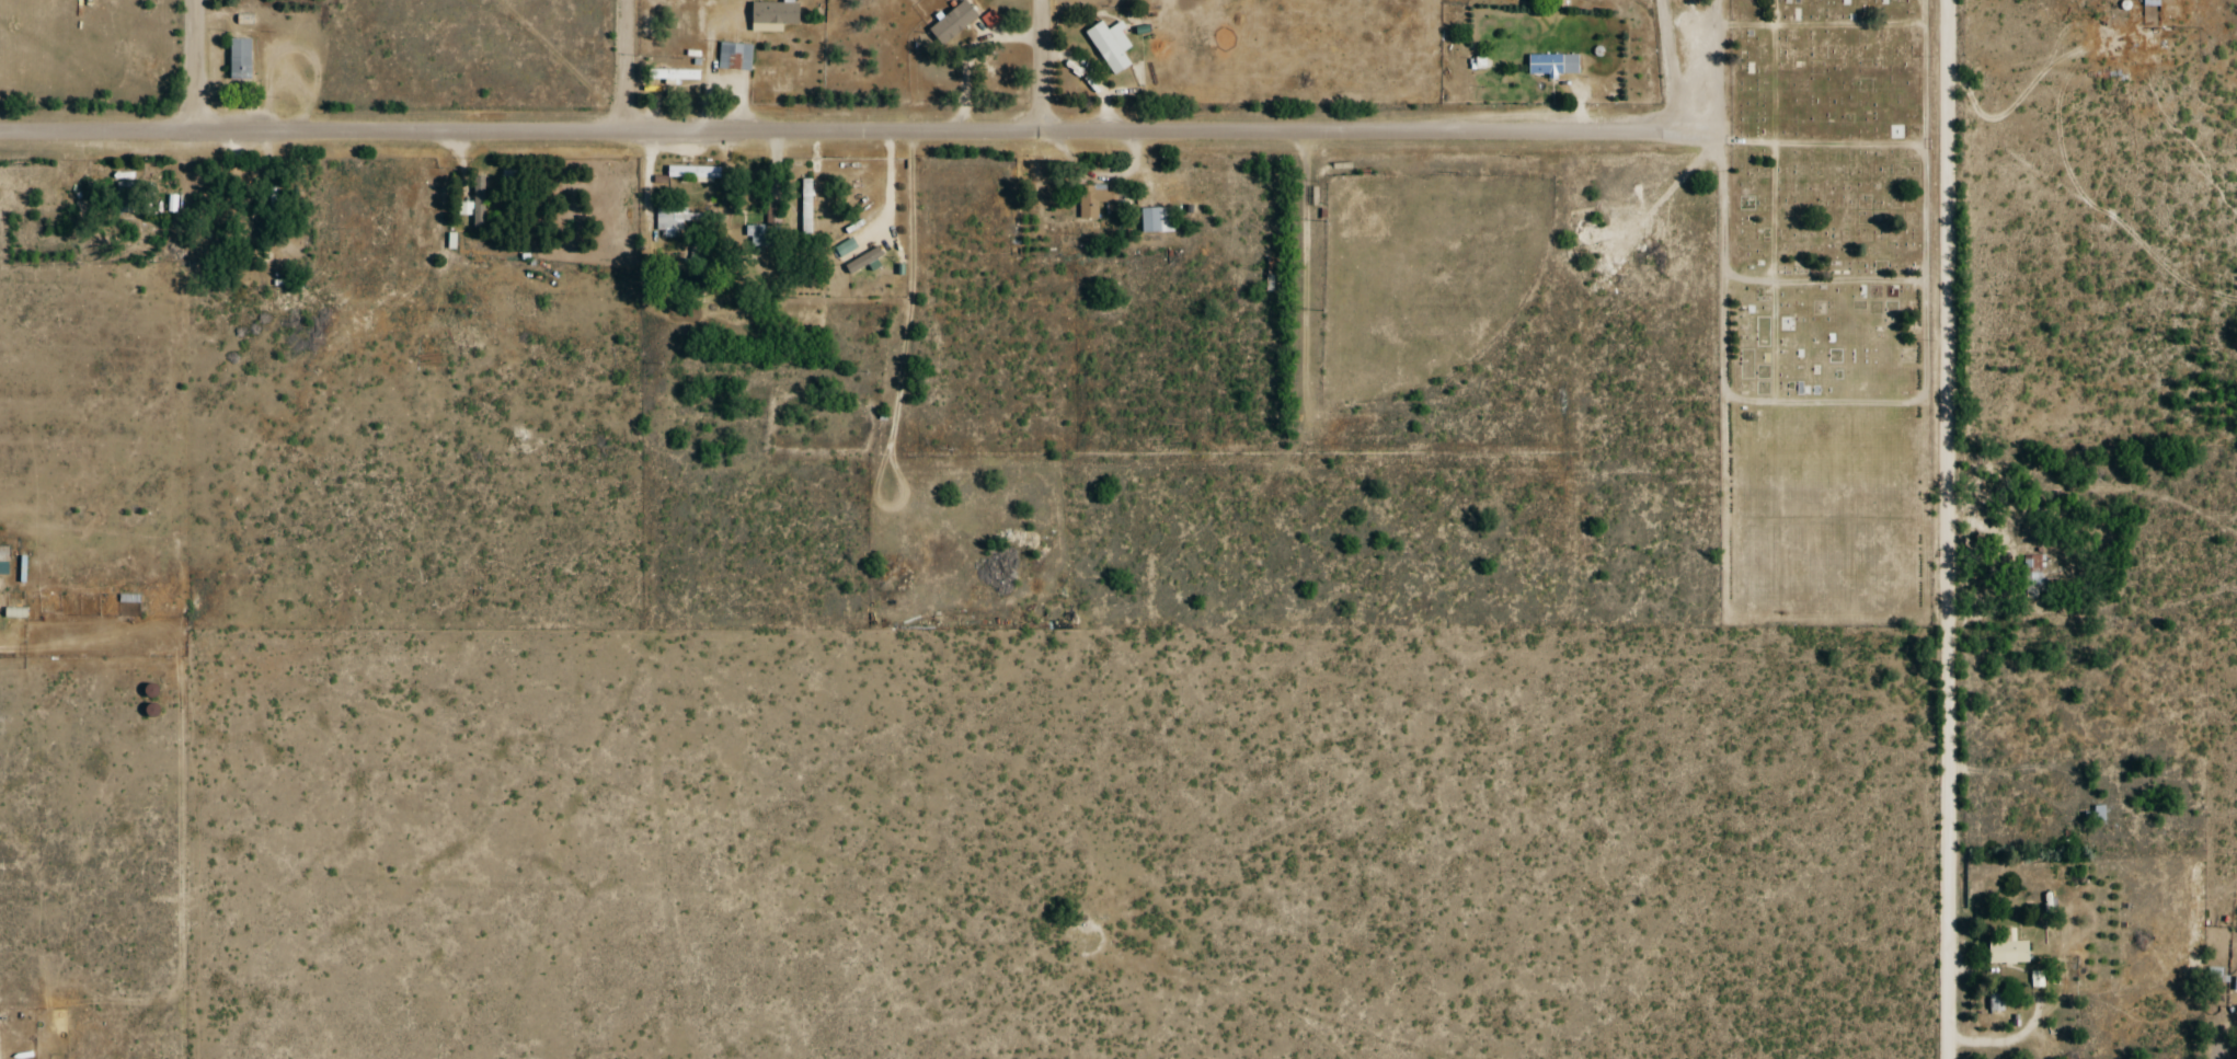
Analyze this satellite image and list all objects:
building: (2152, 2)
road: (1824, 20)
building: (952, 22)
building: (1110, 45)
building: (240, 59)
road: (1036, 64)
building: (1552, 64)
road: (626, 65)
road: (1676, 66)
building: (754, 67)
road: (194, 68)
building: (674, 74)
road: (854, 127)
road: (1825, 138)
road: (1515, 145)
road: (1326, 157)
road: (1559, 158)
road: (1318, 169)
building: (692, 172)
building: (126, 198)
road: (1777, 198)
building: (1097, 200)
building: (806, 206)
building: (672, 218)
building: (1157, 219)
road: (1634, 226)
building: (756, 234)
park: (1425, 269)
road: (1825, 276)
road: (1310, 283)
road: (1726, 307)
road: (1928, 307)
park: (1828, 313)
road: (1493, 341)
road: (1522, 361)
road: (1826, 398)
road: (1316, 405)
road: (1949, 529)
building: (3, 559)
building: (2034, 574)
building: (128, 597)
road: (1829, 613)
building: (2095, 813)
building: (2008, 949)
building: (2236, 983)
road: (2223, 1033)
road: (2011, 1039)

